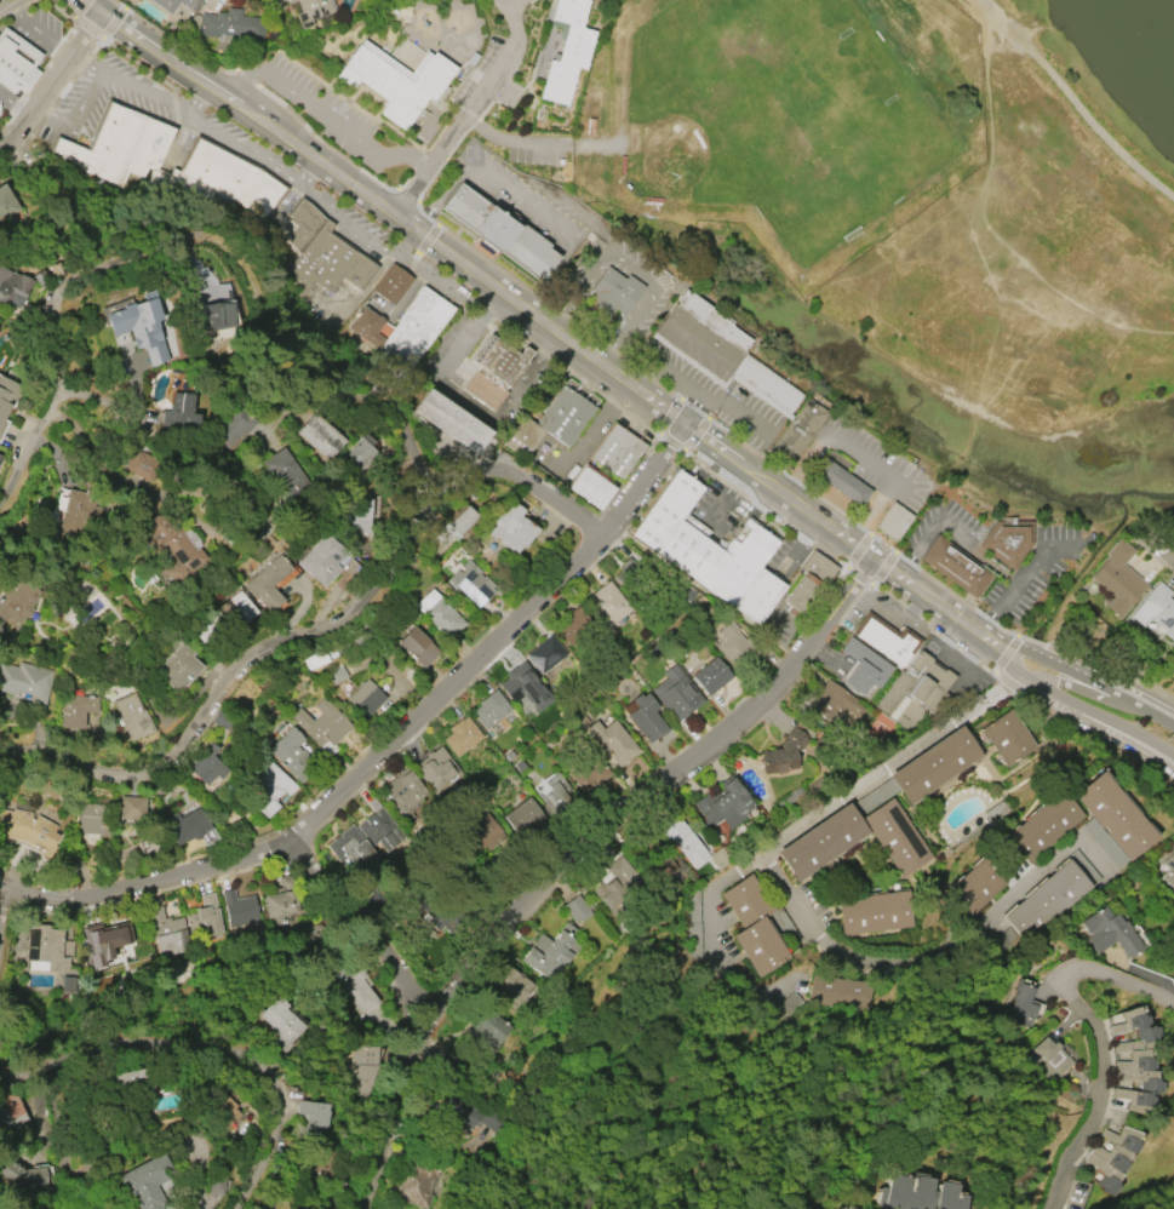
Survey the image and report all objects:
road: (5, 2)
building: (172, 4)
road: (516, 4)
road: (93, 6)
building: (311, 11)
building: (225, 28)
road: (38, 31)
river: (1146, 36)
building: (566, 51)
building: (16, 63)
building: (396, 81)
road: (53, 85)
road: (195, 97)
road: (16, 104)
road: (1072, 104)
park: (798, 105)
road: (78, 111)
road: (469, 111)
road: (322, 114)
road: (512, 143)
road: (245, 147)
building: (113, 164)
road: (293, 191)
road: (517, 201)
building: (6, 204)
road: (985, 224)
building: (498, 231)
road: (430, 241)
road: (411, 247)
building: (320, 254)
road: (418, 258)
road: (414, 267)
road: (634, 269)
building: (52, 271)
building: (391, 285)
road: (445, 286)
building: (11, 287)
building: (611, 296)
building: (216, 317)
road: (55, 321)
building: (137, 325)
building: (403, 330)
road: (550, 332)
road: (269, 336)
building: (722, 354)
building: (494, 371)
road: (678, 378)
road: (552, 382)
road: (465, 399)
building: (2, 409)
road: (735, 411)
building: (181, 414)
building: (567, 417)
building: (451, 422)
building: (231, 428)
road: (403, 431)
building: (794, 435)
building: (320, 437)
road: (585, 439)
building: (615, 452)
building: (359, 454)
building: (0, 455)
building: (141, 466)
building: (285, 474)
road: (889, 480)
building: (840, 482)
road: (522, 483)
building: (590, 488)
road: (725, 498)
building: (58, 505)
building: (75, 510)
building: (356, 516)
building: (893, 522)
building: (454, 526)
building: (509, 528)
road: (928, 531)
building: (1007, 540)
road: (798, 545)
building: (174, 549)
building: (710, 551)
road: (1169, 557)
building: (321, 558)
building: (955, 567)
road: (1020, 579)
building: (1117, 579)
building: (267, 581)
building: (808, 581)
building: (470, 584)
building: (16, 600)
building: (607, 607)
building: (239, 609)
road: (917, 612)
building: (1156, 613)
building: (440, 614)
building: (573, 629)
building: (886, 638)
building: (739, 647)
building: (417, 648)
building: (545, 654)
road: (1009, 657)
building: (178, 667)
building: (864, 667)
building: (336, 675)
road: (233, 676)
building: (711, 676)
road: (1089, 678)
building: (25, 681)
road: (1014, 686)
building: (523, 687)
building: (914, 693)
building: (675, 694)
building: (365, 699)
building: (834, 701)
road: (1083, 707)
building: (75, 710)
building: (489, 710)
building: (132, 716)
building: (643, 717)
building: (578, 718)
building: (322, 726)
building: (460, 738)
building: (1007, 738)
road: (1099, 740)
building: (613, 741)
road: (389, 746)
building: (784, 749)
building: (292, 756)
building: (207, 764)
building: (934, 767)
building: (439, 769)
building: (585, 769)
building: (269, 787)
building: (554, 792)
building: (403, 797)
building: (130, 807)
building: (725, 807)
building: (522, 816)
building: (95, 818)
building: (1109, 820)
building: (187, 825)
building: (1042, 826)
building: (30, 831)
building: (380, 831)
building: (486, 832)
road: (801, 835)
building: (895, 837)
building: (685, 843)
building: (820, 843)
building: (354, 853)
road: (577, 858)
building: (1169, 866)
building: (975, 886)
building: (612, 887)
road: (2, 889)
building: (1050, 896)
road: (786, 899)
building: (280, 901)
road: (2, 909)
building: (240, 909)
building: (574, 909)
building: (875, 915)
building: (204, 918)
building: (757, 927)
road: (366, 929)
building: (168, 933)
building: (1110, 933)
building: (105, 939)
building: (46, 950)
building: (550, 952)
road: (949, 957)
building: (354, 984)
building: (514, 985)
building: (838, 991)
building: (1023, 1005)
building: (280, 1024)
road: (1086, 1026)
building: (486, 1031)
road: (210, 1039)
building: (1048, 1059)
building: (1134, 1061)
building: (363, 1067)
building: (459, 1112)
building: (11, 1113)
building: (311, 1115)
building: (1110, 1157)
building: (321, 1173)
building: (21, 1175)
building: (147, 1182)
building: (416, 1182)
building: (918, 1194)
building: (80, 1208)

